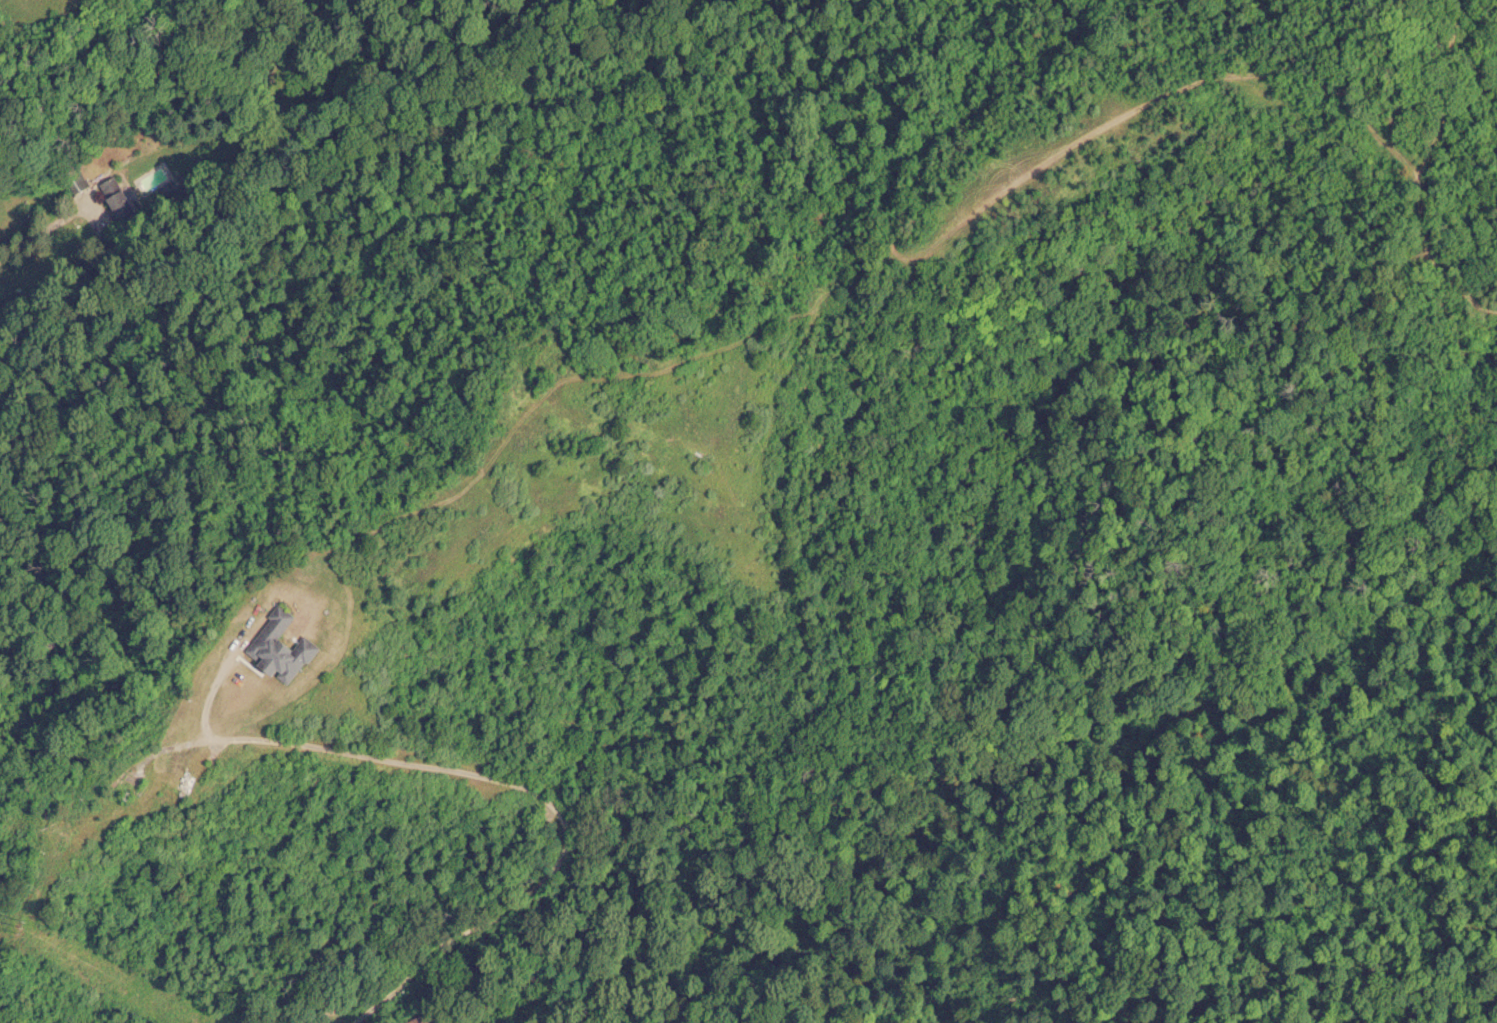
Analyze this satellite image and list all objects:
building: (273, 647)
building: (423, 1022)

